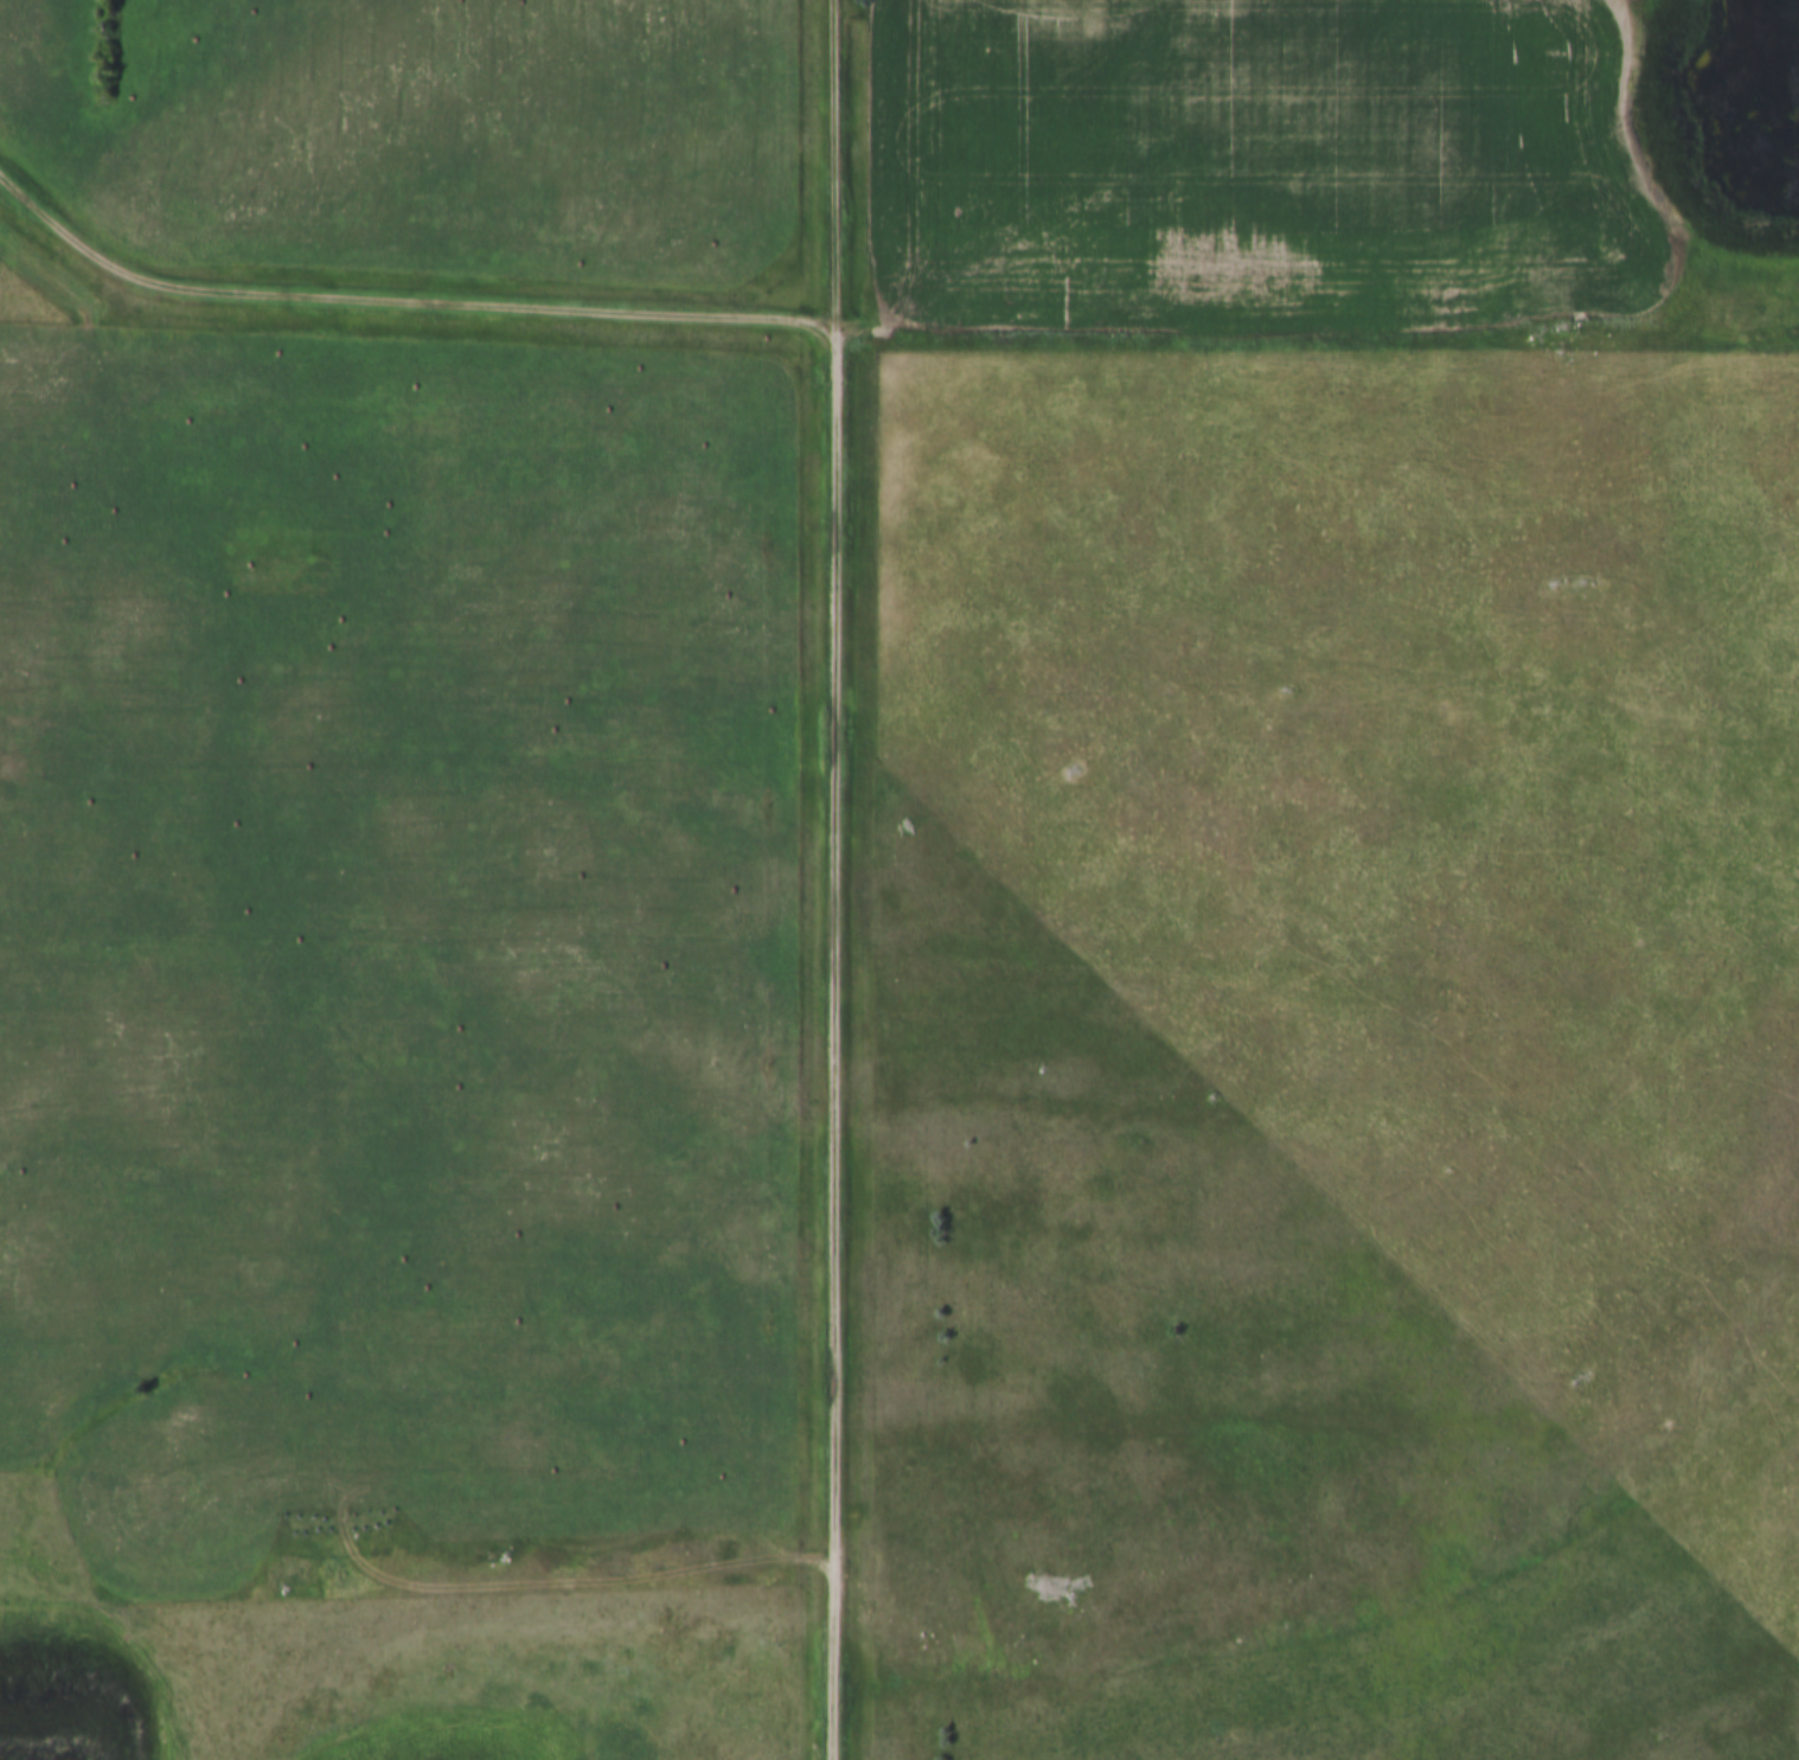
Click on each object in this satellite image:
road: (401, 302)
road: (834, 879)

